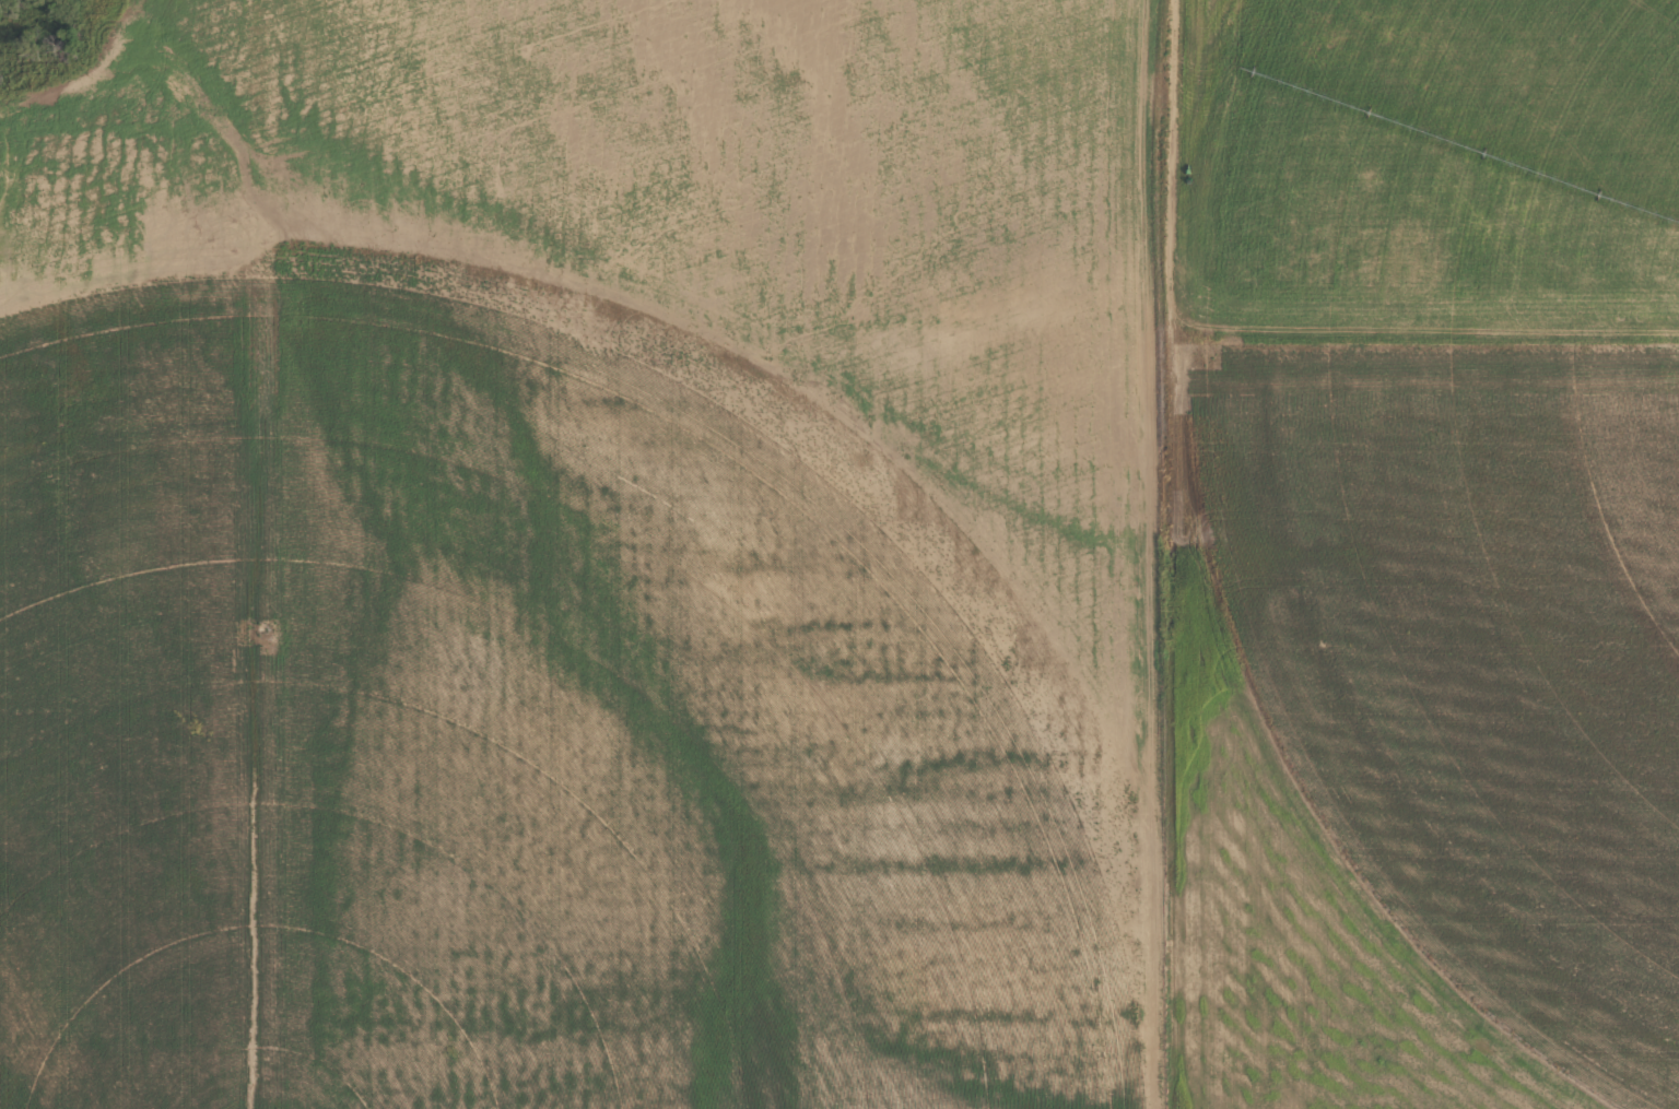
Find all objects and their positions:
road: (1155, 554)

